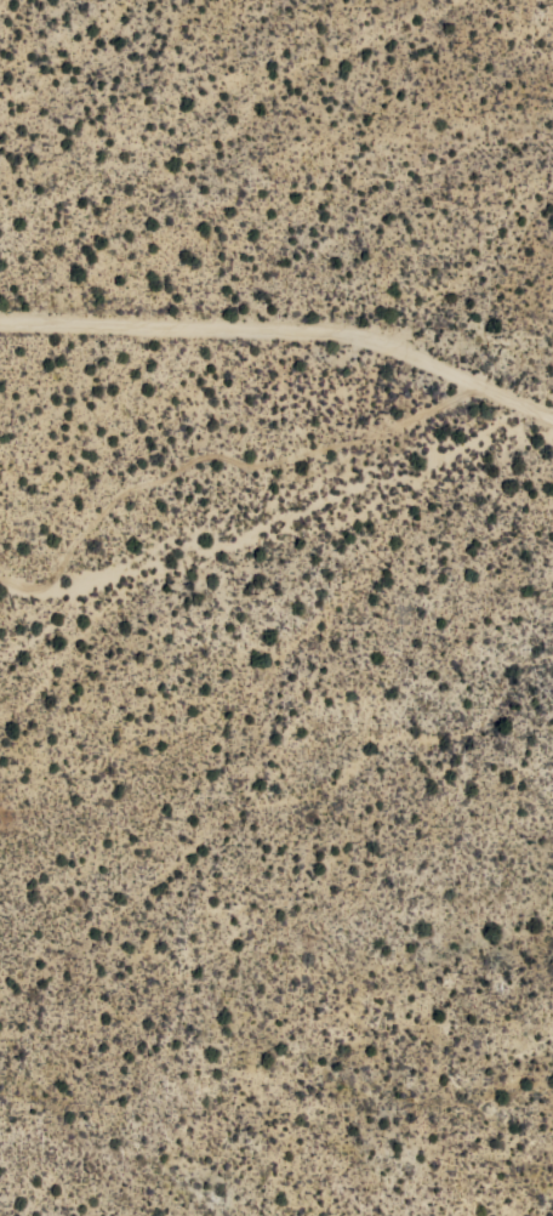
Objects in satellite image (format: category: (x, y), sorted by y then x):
road: (284, 328)

